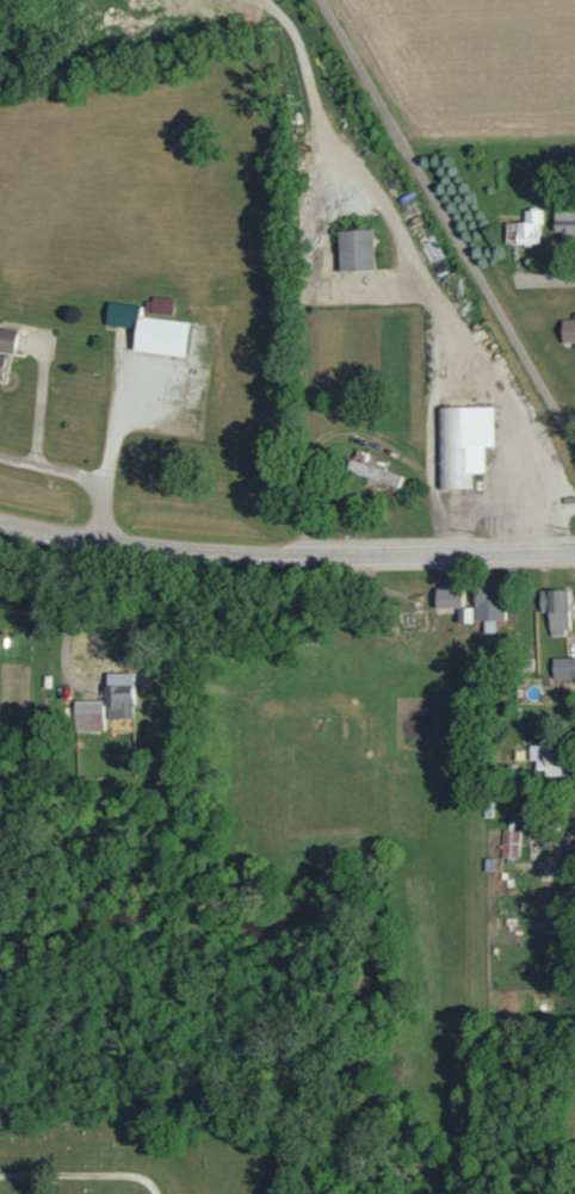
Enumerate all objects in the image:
road: (258, 0)
road: (259, 0)
building: (564, 221)
road: (447, 223)
building: (527, 227)
building: (355, 250)
road: (414, 267)
road: (551, 279)
road: (361, 285)
building: (160, 307)
building: (123, 315)
building: (568, 329)
building: (161, 336)
building: (7, 338)
building: (1, 365)
road: (302, 383)
parking lot: (159, 384)
road: (41, 402)
road: (111, 423)
road: (429, 428)
road: (376, 437)
building: (465, 444)
building: (373, 474)
road: (79, 475)
road: (48, 531)
road: (335, 555)
building: (447, 596)
building: (488, 602)
building: (555, 608)
building: (563, 667)
road: (64, 669)
building: (119, 697)
building: (91, 714)
building: (548, 759)
building: (508, 842)
road: (556, 861)
park: (97, 1157)
road: (84, 1173)

